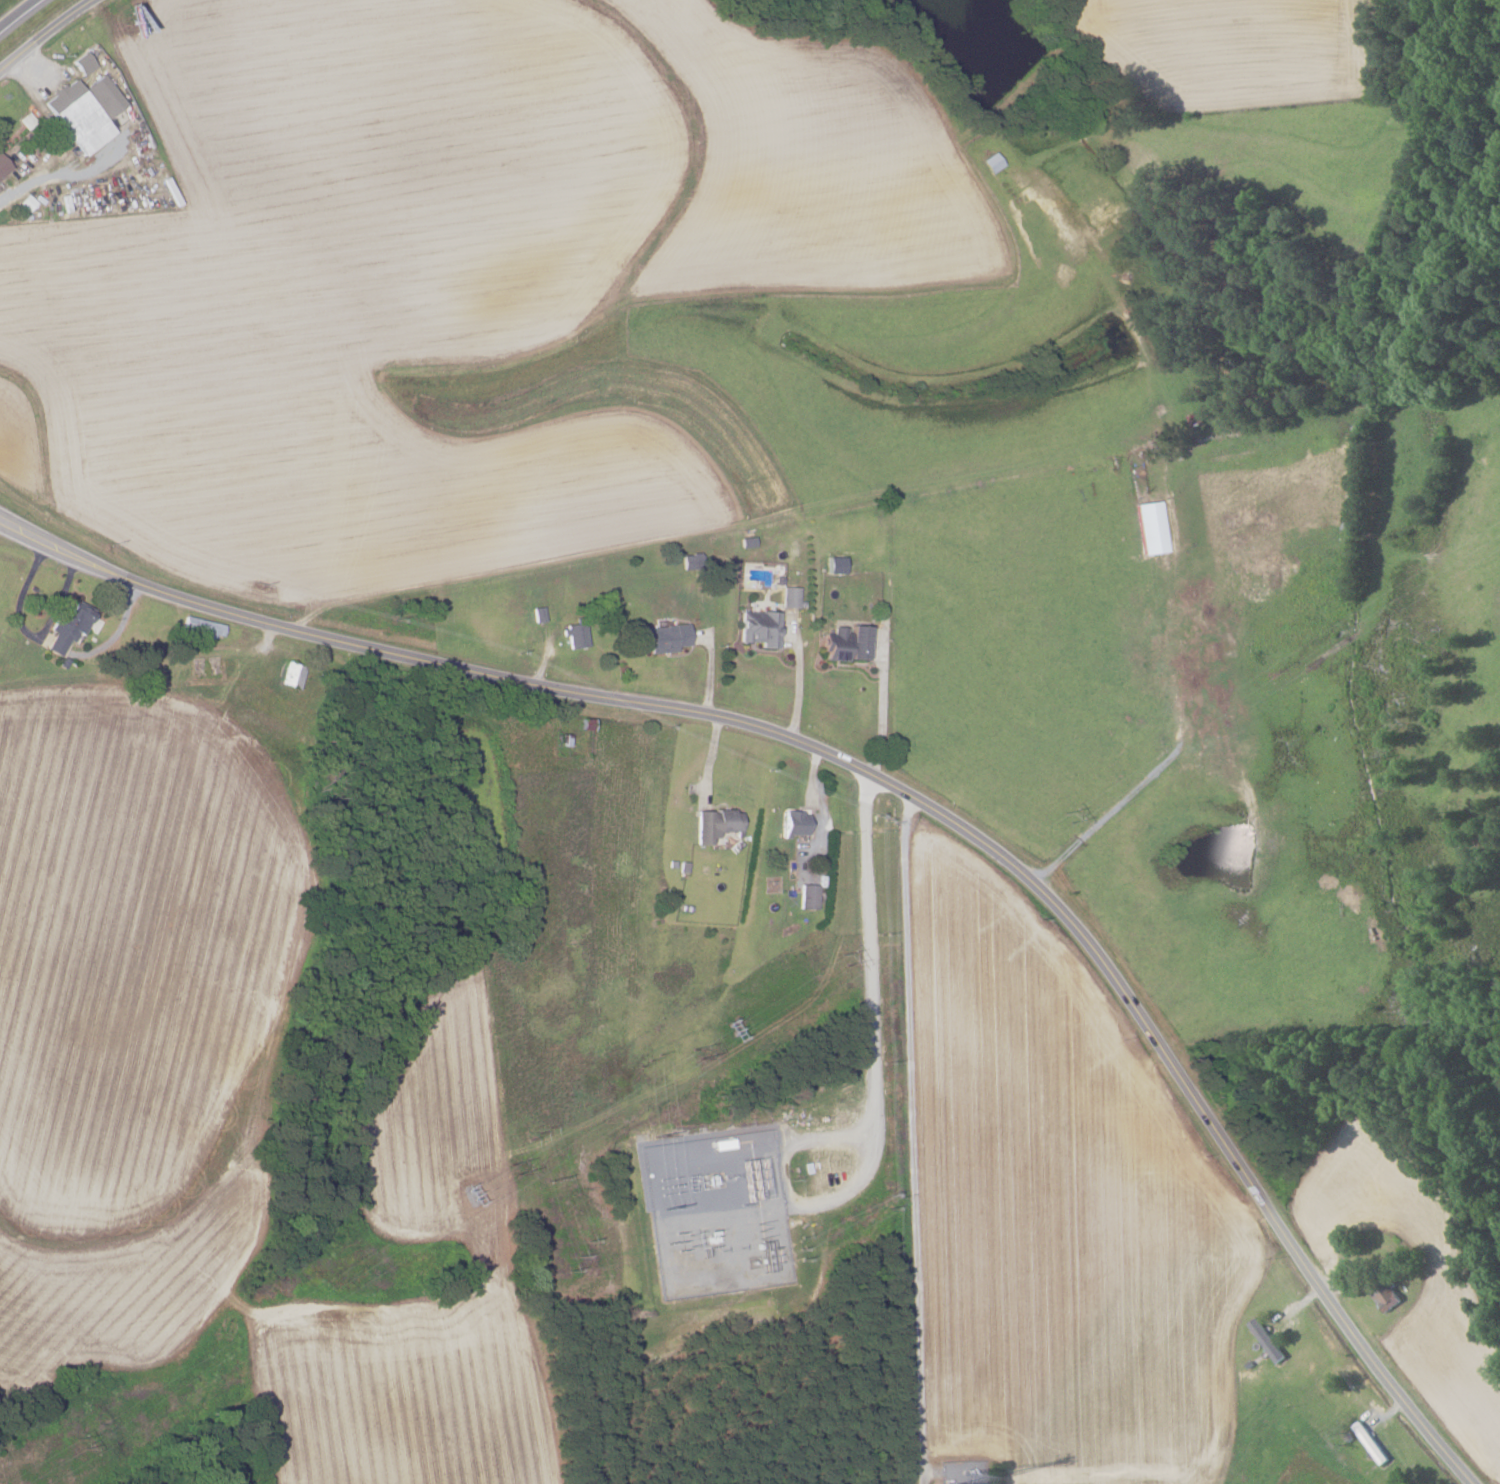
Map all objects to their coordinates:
road: (19, 14)
road: (43, 32)
building: (82, 63)
building: (85, 111)
building: (992, 162)
building: (3, 166)
road: (46, 176)
building: (1151, 527)
building: (790, 596)
building: (68, 627)
building: (201, 627)
building: (759, 628)
building: (576, 635)
building: (664, 637)
building: (846, 643)
building: (291, 675)
road: (797, 679)
road: (879, 707)
road: (883, 781)
road: (1099, 813)
building: (795, 823)
building: (716, 824)
power tower: (1057, 826)
building: (808, 896)
power tower: (841, 959)
power tower: (699, 1056)
power tower: (515, 1166)
power substation: (716, 1212)
building: (1389, 1299)
building: (1268, 1339)
power tower: (80, 1441)
building: (1371, 1442)

